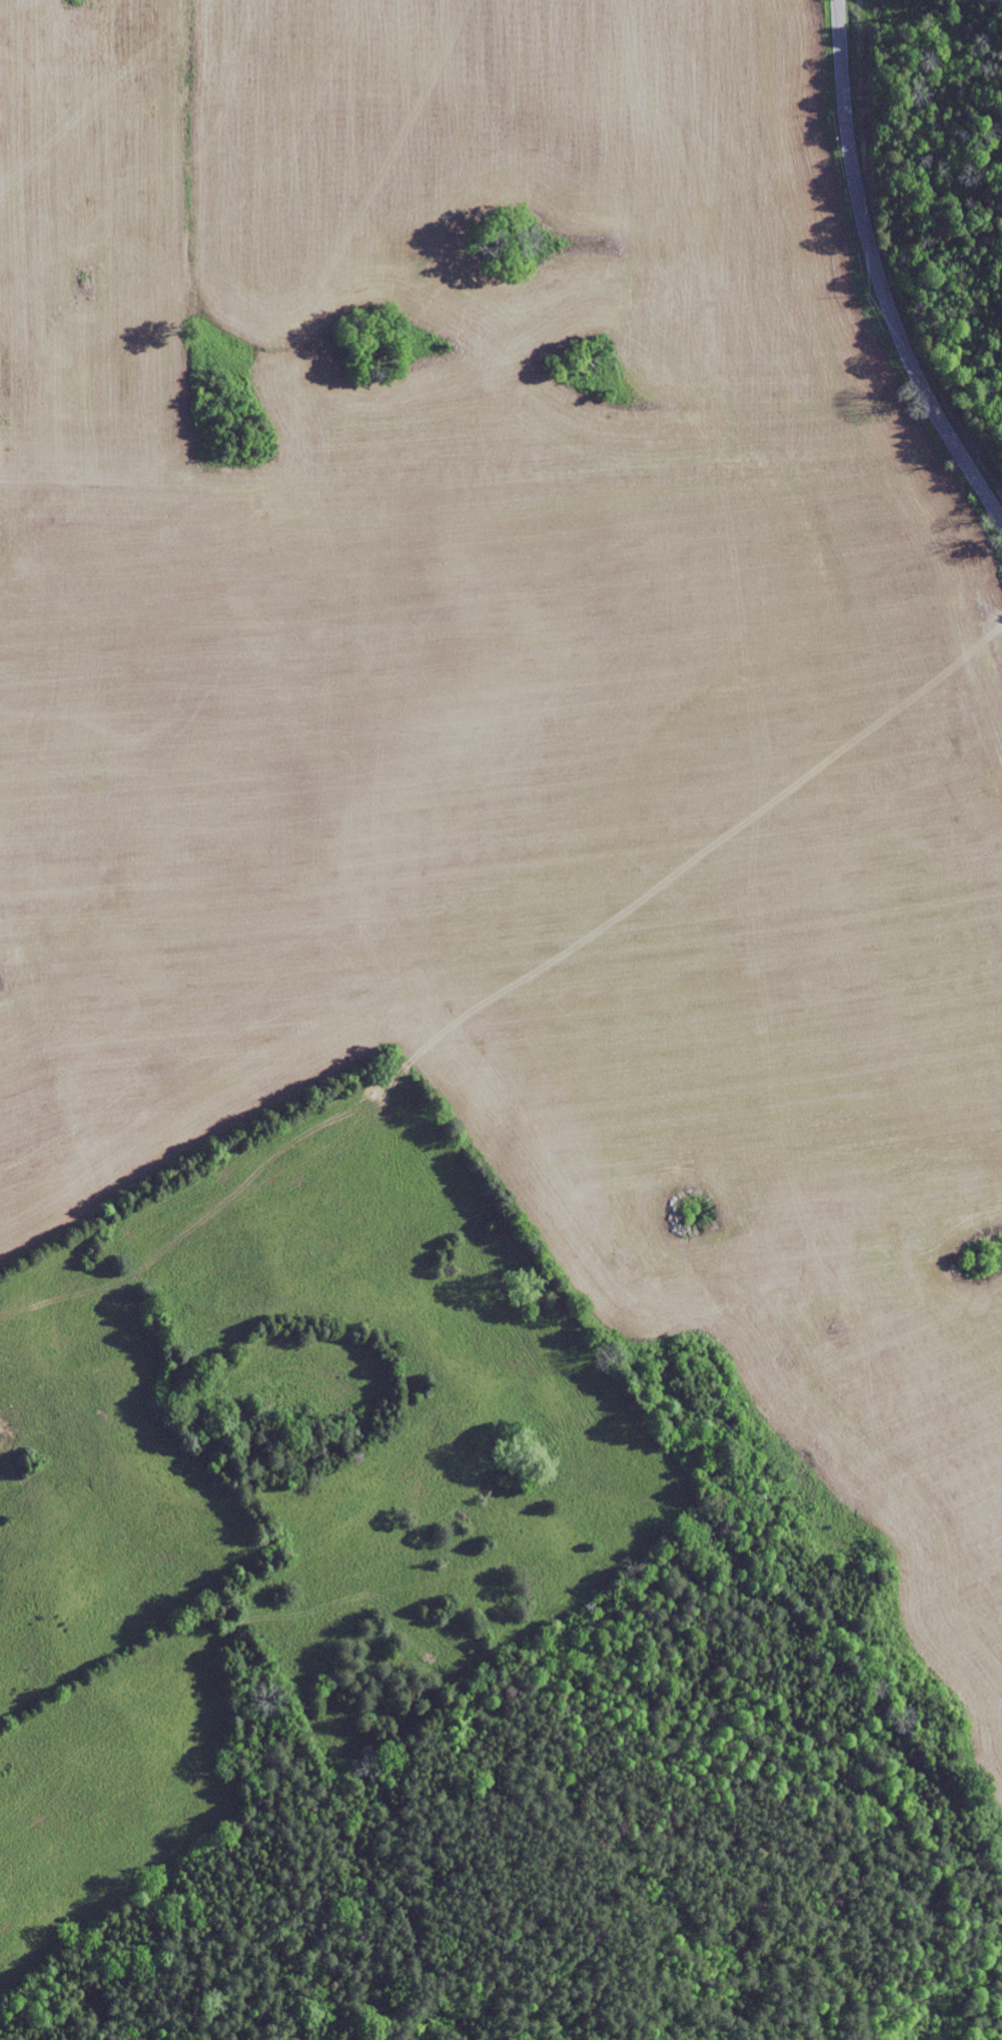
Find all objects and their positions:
road: (878, 271)

